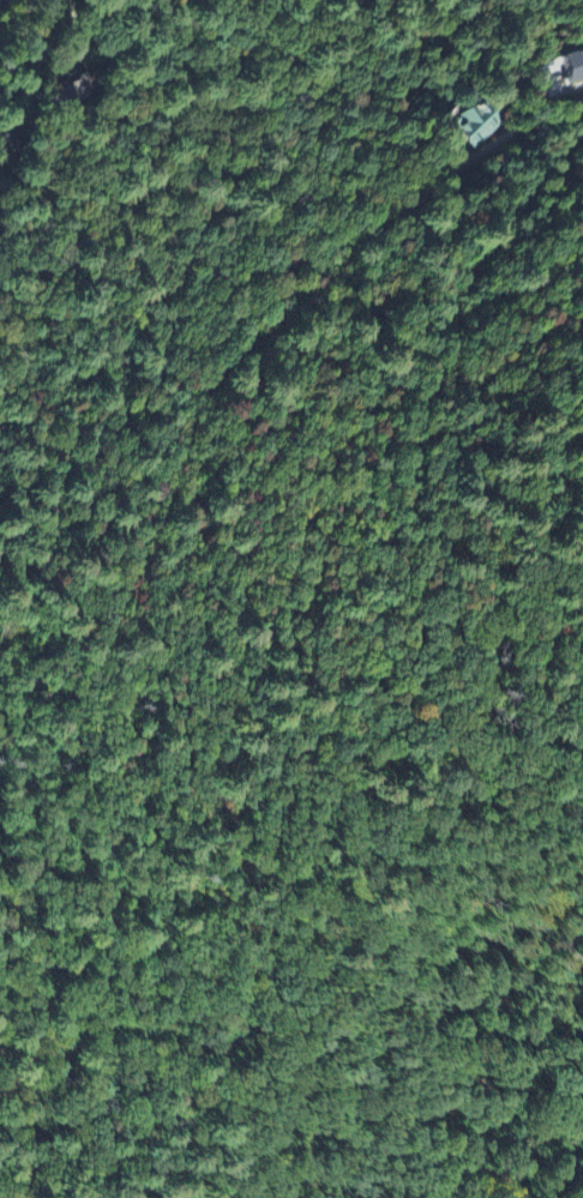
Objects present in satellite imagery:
road: (36, 47)
building: (569, 68)
building: (549, 86)
building: (470, 128)
road: (407, 204)

